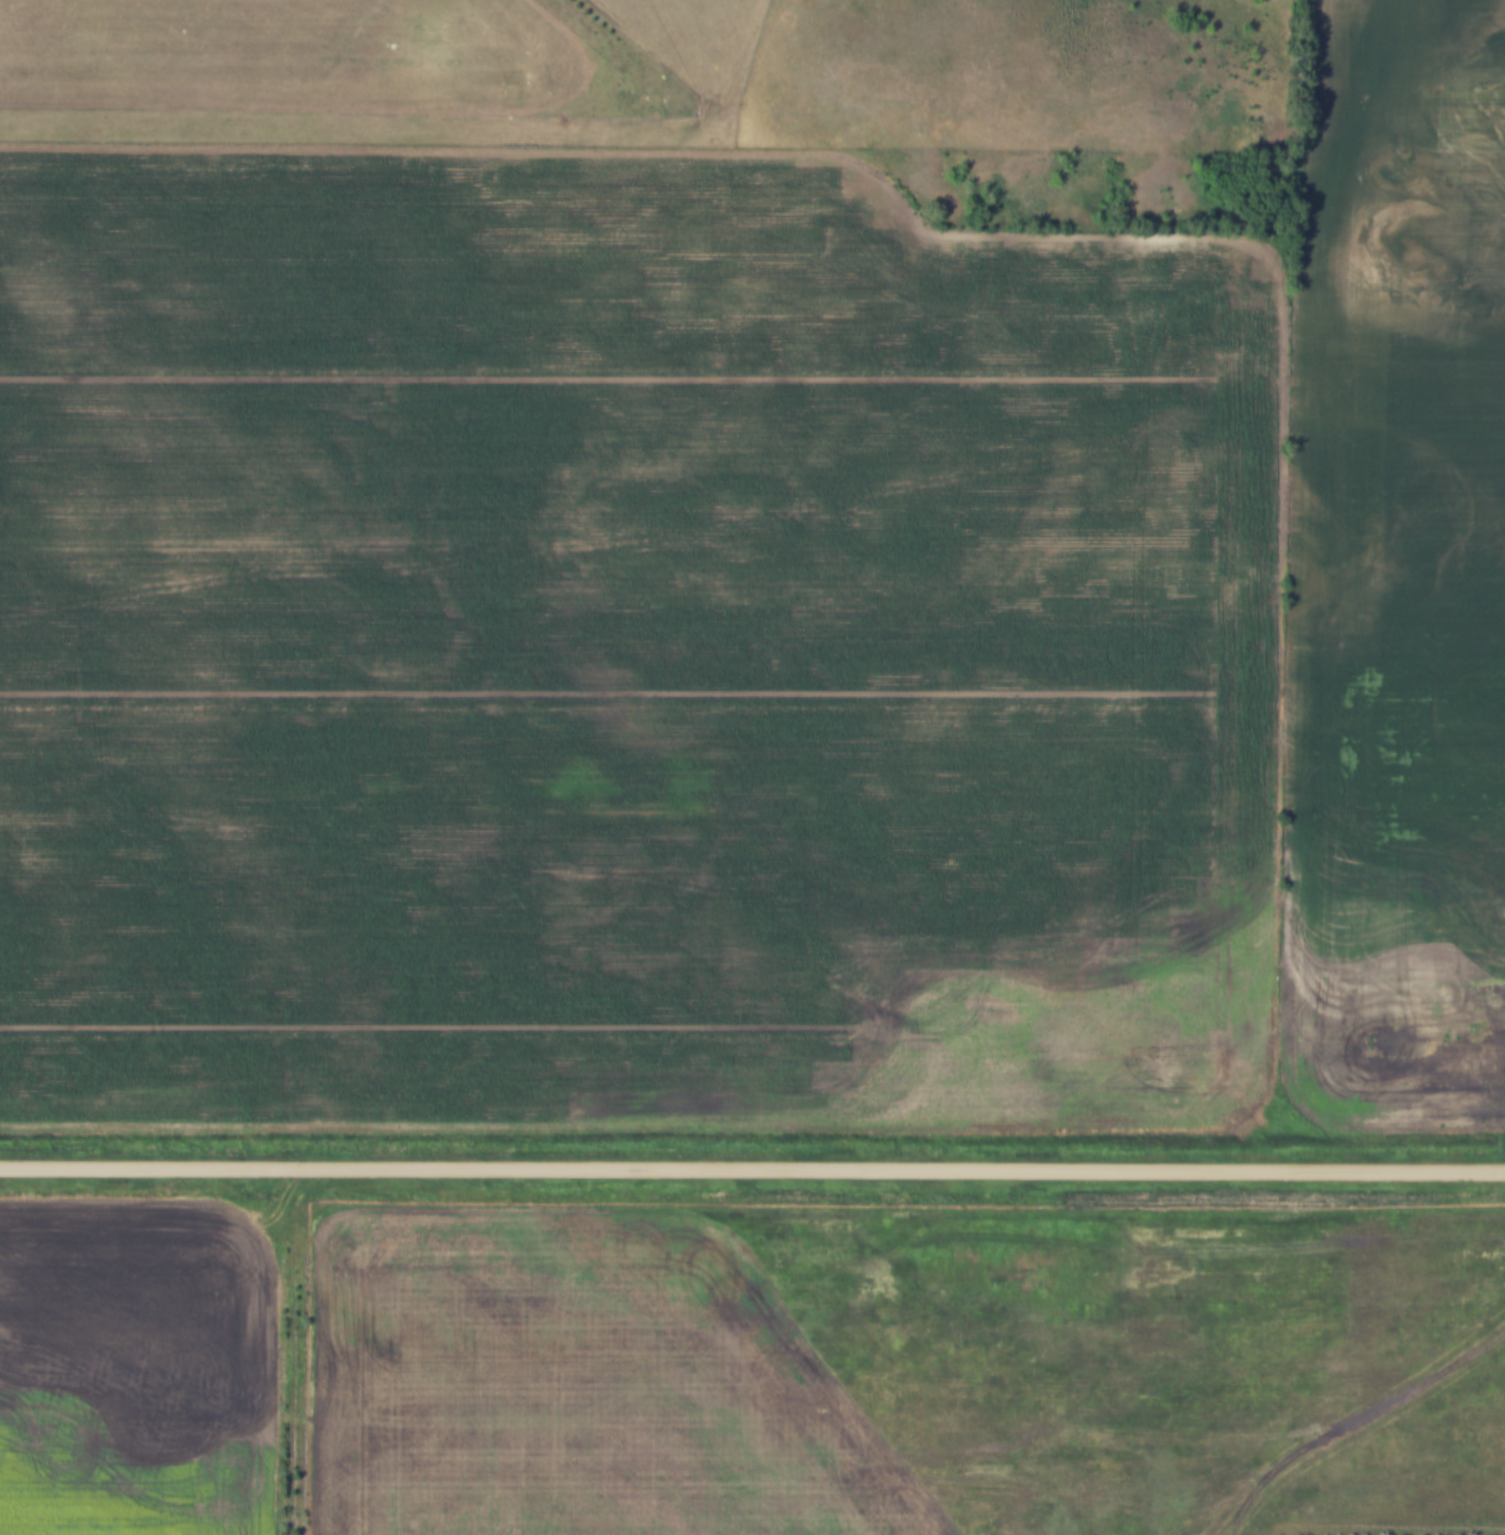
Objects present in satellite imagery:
road: (752, 1165)

